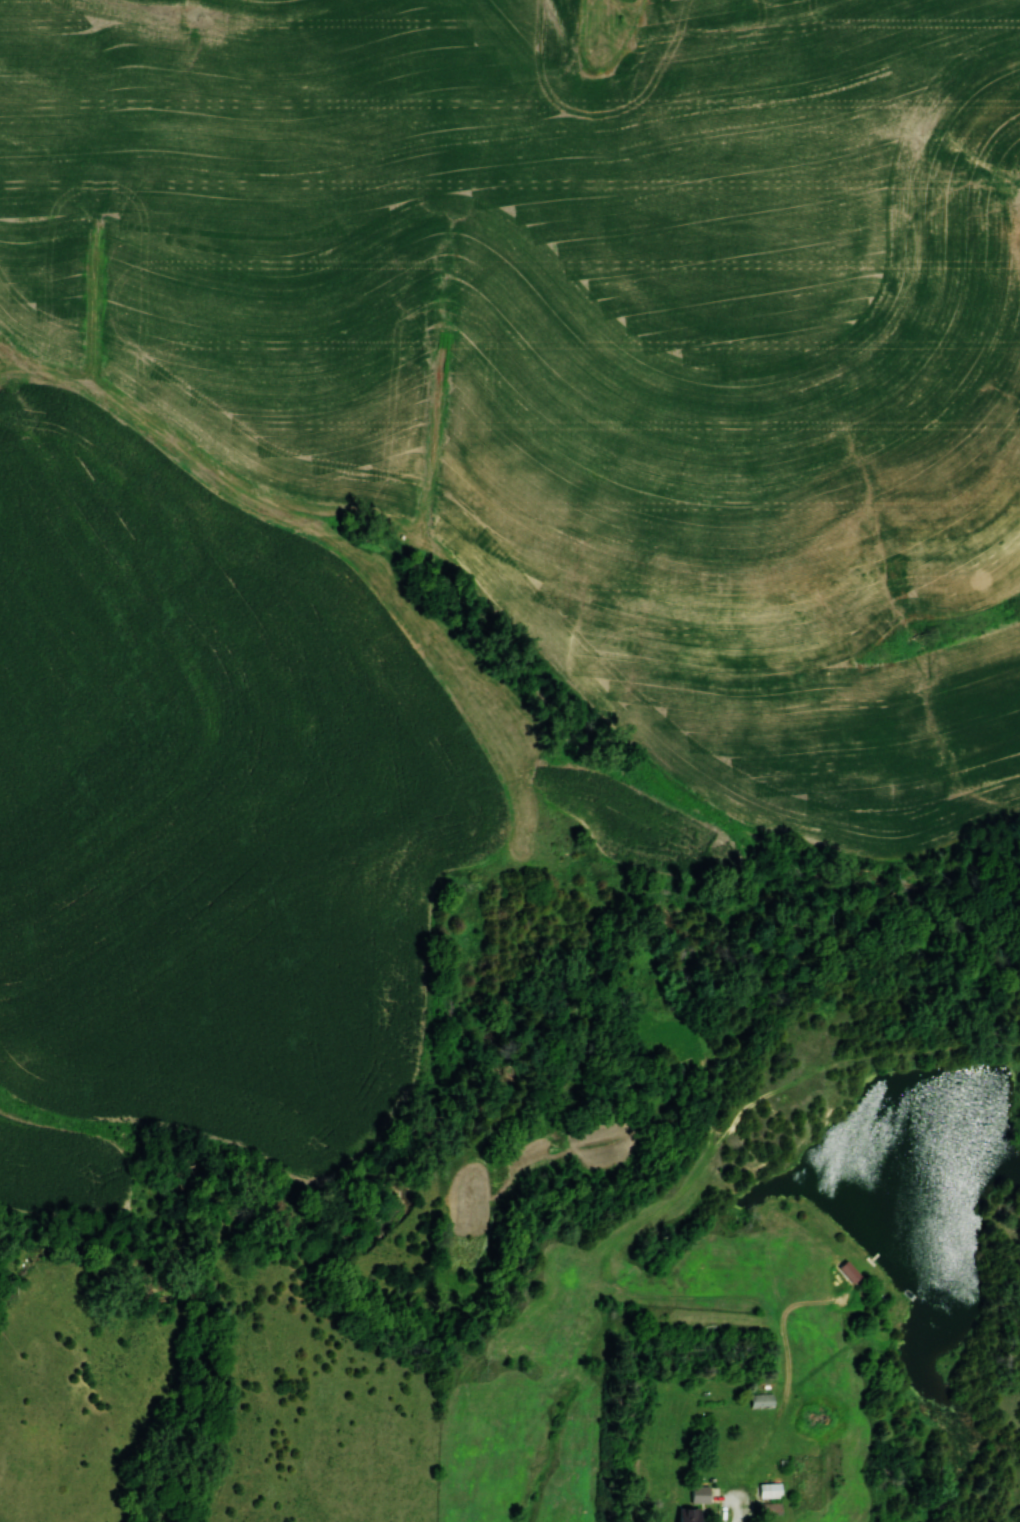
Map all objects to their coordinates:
building: (760, 1399)
building: (768, 1490)
building: (698, 1493)
road: (731, 1508)
building: (686, 1514)

